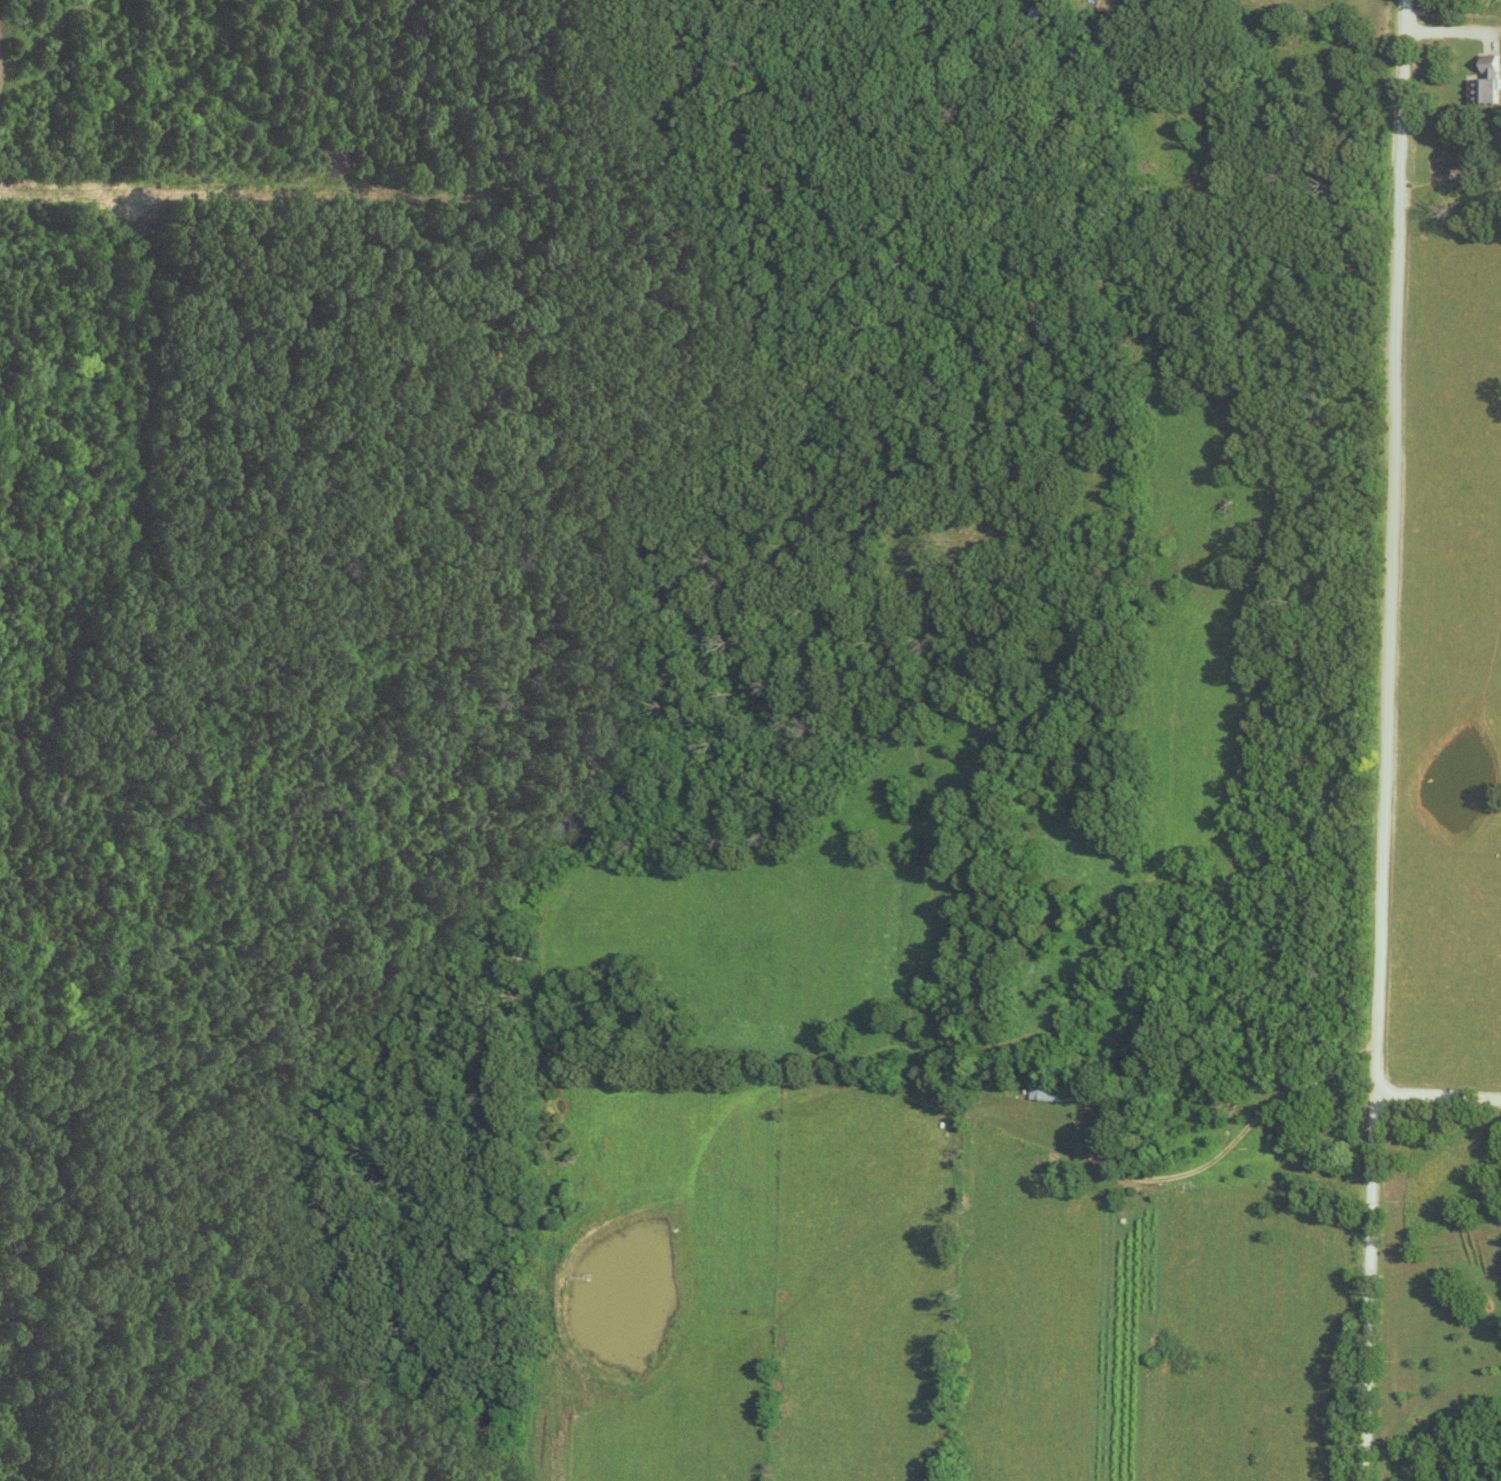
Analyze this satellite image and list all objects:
building: (1038, 13)
road: (1477, 32)
building: (1485, 81)
road: (1384, 545)
road: (928, 1071)
building: (1054, 1093)
road: (1436, 1093)
road: (1215, 1158)
road: (1366, 1286)

